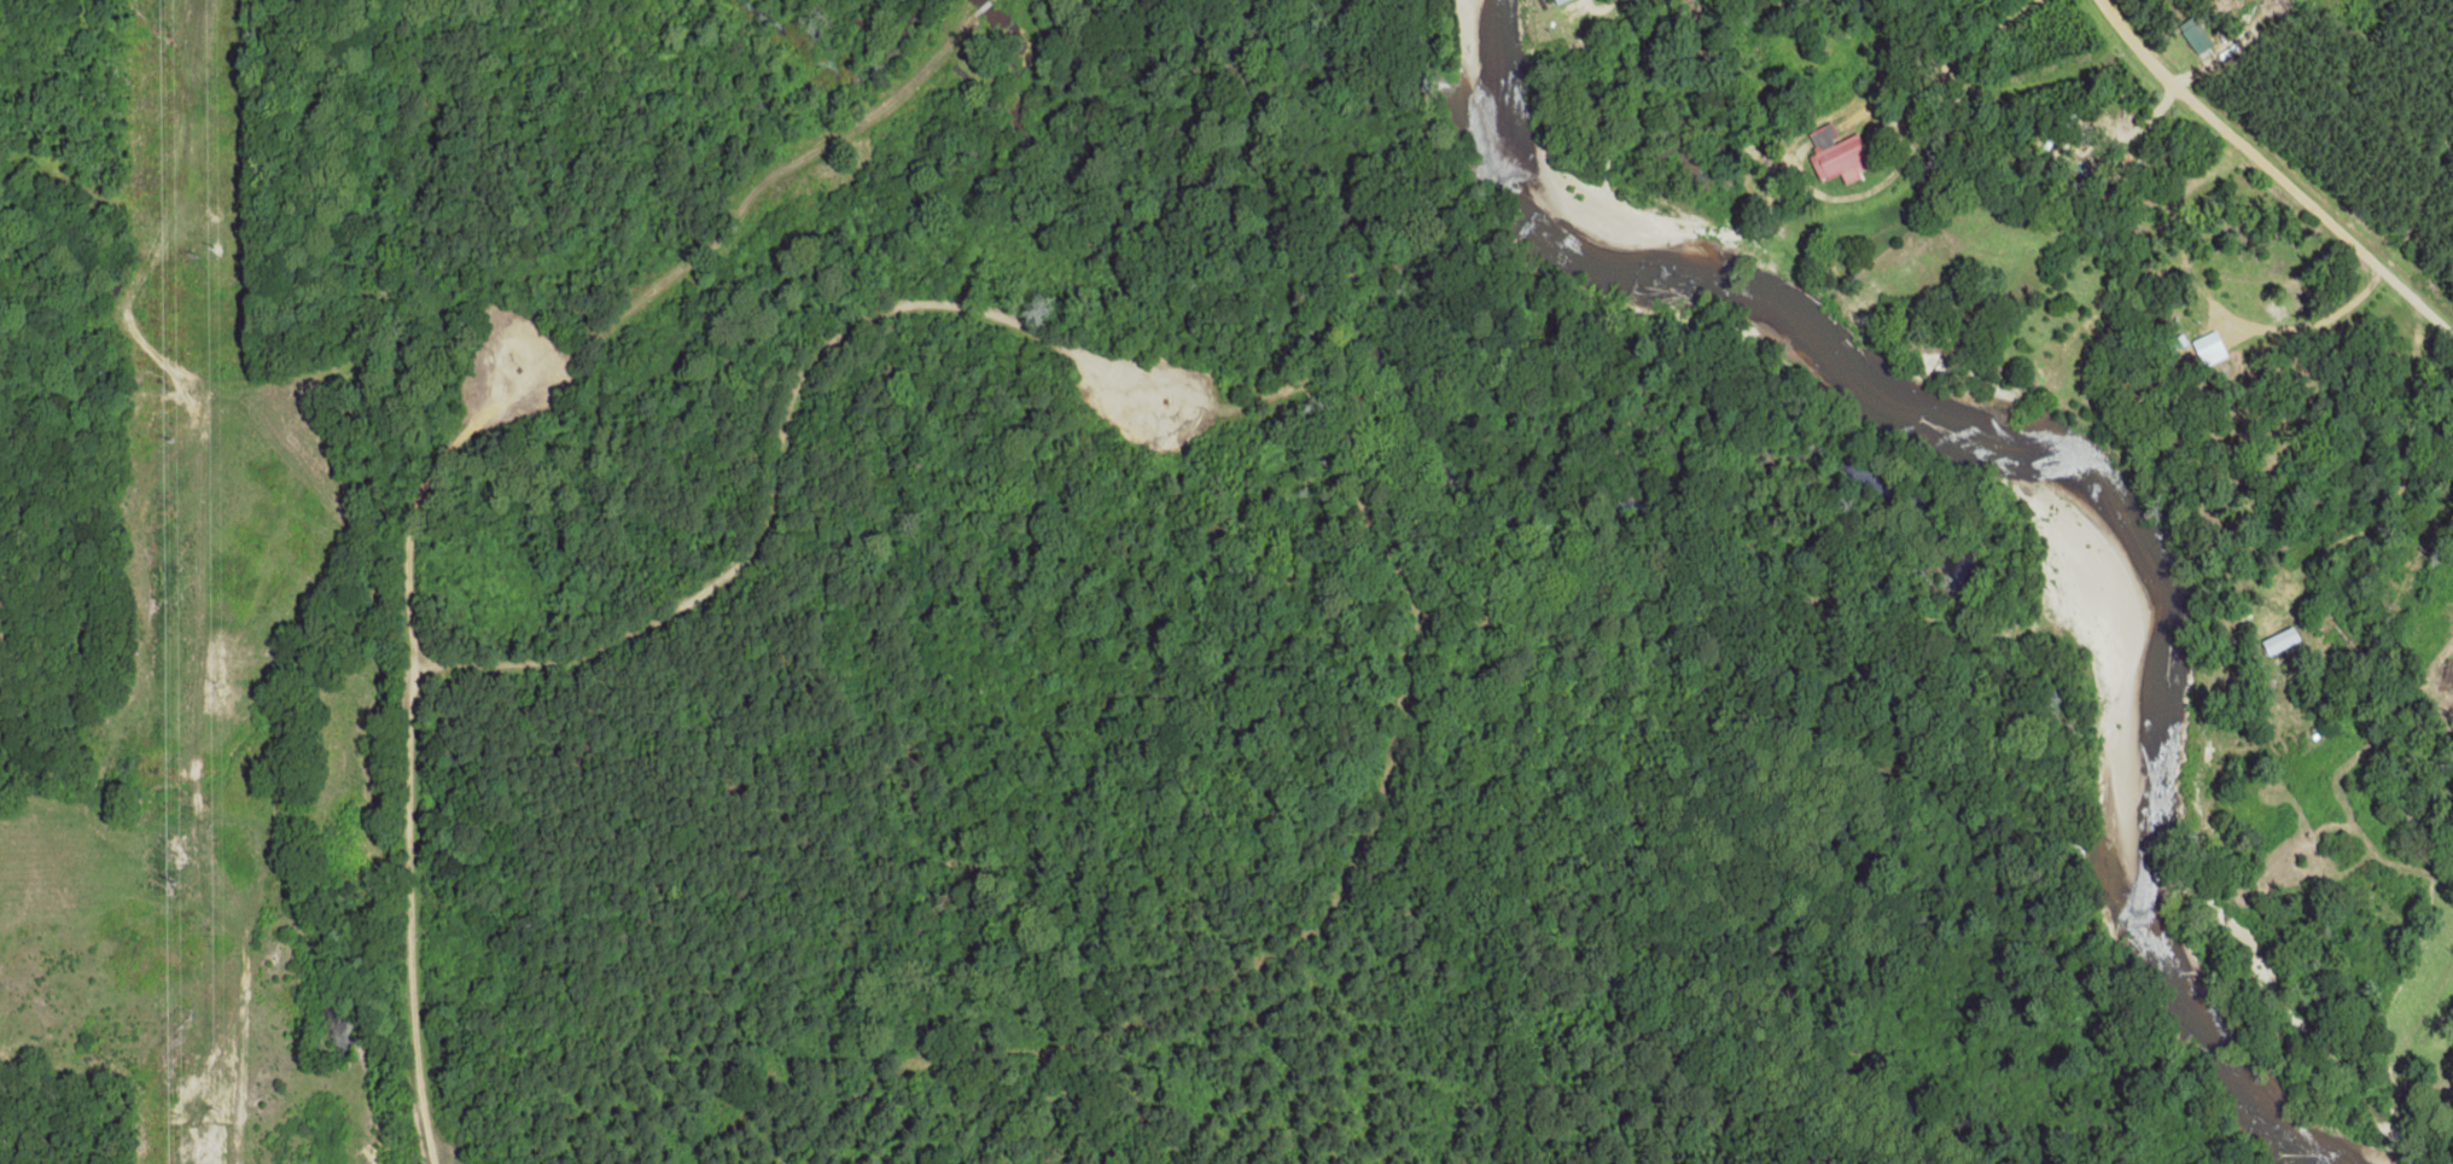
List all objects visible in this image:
building: (1558, 1)
building: (2195, 35)
building: (1837, 156)
building: (2209, 350)
road: (479, 461)
road: (754, 483)
building: (2280, 640)

